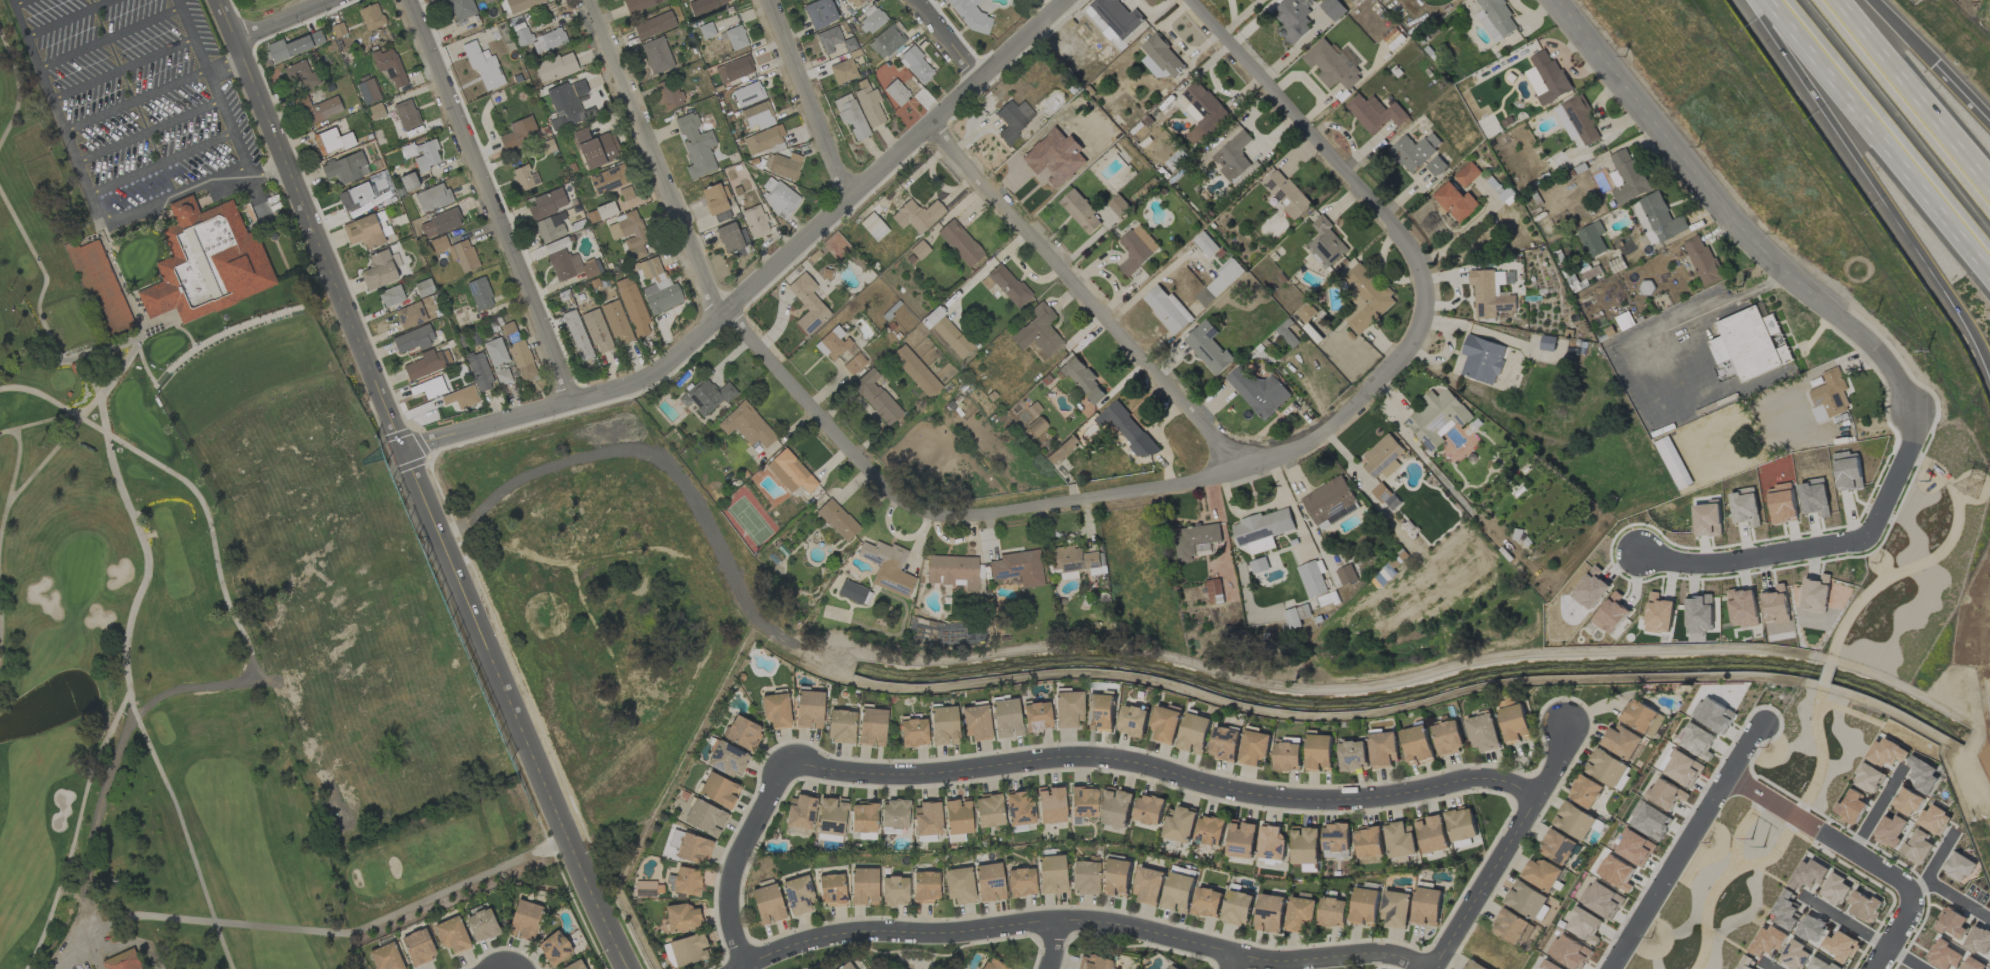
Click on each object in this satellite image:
building: (796, 0)
building: (1250, 0)
road: (18, 2)
building: (855, 2)
building: (523, 4)
building: (638, 5)
building: (705, 6)
building: (461, 9)
building: (1333, 9)
building: (820, 13)
building: (970, 15)
road: (68, 17)
building: (371, 17)
building: (1117, 18)
building: (1496, 18)
building: (1293, 19)
building: (871, 20)
road: (287, 22)
building: (654, 26)
building: (706, 30)
road: (1895, 33)
road: (110, 37)
building: (537, 37)
building: (735, 38)
building: (829, 39)
road: (951, 39)
building: (886, 41)
building: (292, 47)
building: (657, 56)
building: (1164, 56)
building: (1332, 65)
building: (483, 66)
building: (916, 66)
road: (228, 67)
building: (389, 67)
road: (123, 68)
building: (556, 68)
building: (734, 69)
building: (843, 71)
building: (300, 74)
building: (1546, 77)
road: (213, 84)
building: (368, 91)
building: (896, 93)
road: (1913, 93)
building: (669, 94)
building: (748, 94)
road: (808, 97)
road: (1959, 97)
road: (136, 99)
parking lot: (138, 103)
building: (567, 105)
building: (869, 106)
building: (317, 109)
building: (1201, 111)
building: (375, 112)
building: (1375, 113)
road: (59, 115)
building: (406, 115)
building: (758, 115)
building: (851, 116)
building: (1013, 119)
building: (1577, 120)
road: (149, 131)
building: (519, 133)
road: (1879, 136)
building: (763, 140)
building: (332, 141)
building: (595, 148)
building: (1414, 151)
building: (422, 154)
building: (1233, 156)
road: (656, 157)
road: (163, 162)
building: (783, 165)
building: (1436, 166)
building: (345, 168)
building: (1467, 175)
building: (1629, 177)
building: (522, 178)
building: (609, 179)
building: (1615, 179)
building: (408, 182)
road: (1876, 186)
road: (203, 187)
building: (364, 192)
building: (625, 194)
building: (1288, 195)
building: (778, 197)
building: (432, 198)
road: (491, 198)
building: (1456, 202)
building: (547, 203)
building: (715, 203)
building: (1118, 205)
building: (1081, 212)
road: (1724, 214)
building: (917, 216)
building: (1657, 218)
building: (755, 222)
building: (439, 223)
road: (312, 224)
building: (551, 227)
building: (873, 227)
building: (363, 232)
building: (629, 234)
building: (1593, 239)
building: (732, 240)
building: (960, 243)
building: (1325, 243)
building: (1206, 244)
building: (1136, 249)
building: (457, 252)
building: (1703, 261)
building: (567, 262)
building: (378, 271)
building: (205, 272)
road: (764, 275)
building: (1220, 282)
building: (657, 284)
building: (1009, 286)
building: (101, 288)
building: (422, 289)
building: (480, 294)
building: (1490, 294)
building: (391, 296)
building: (1366, 298)
road: (1087, 299)
building: (808, 305)
building: (632, 306)
building: (1167, 309)
building: (1306, 313)
building: (410, 315)
building: (616, 322)
road: (1682, 324)
building: (596, 330)
building: (1038, 331)
building: (577, 335)
building: (951, 337)
building: (414, 339)
building: (1750, 343)
building: (1208, 347)
building: (840, 351)
building: (495, 352)
building: (519, 354)
building: (1482, 359)
building: (427, 364)
building: (479, 371)
building: (918, 374)
building: (502, 376)
building: (1082, 378)
building: (429, 388)
building: (1258, 391)
building: (1829, 396)
building: (461, 397)
building: (706, 397)
building: (876, 397)
building: (1437, 417)
building: (747, 426)
building: (1037, 427)
building: (1127, 429)
building: (1062, 450)
building: (1383, 458)
road: (1264, 462)
building: (1673, 462)
building: (790, 472)
building: (1385, 497)
power tower: (1976, 497)
building: (1330, 502)
building: (837, 520)
building: (1263, 526)
building: (1196, 540)
road: (1822, 547)
park: (205, 552)
building: (1075, 560)
building: (887, 567)
building: (1017, 568)
building: (953, 571)
building: (1346, 575)
building: (1312, 579)
building: (854, 593)
building: (1742, 605)
building: (1699, 611)
building: (1296, 615)
building: (1611, 615)
building: (1657, 622)
building: (1067, 709)
road: (512, 710)
building: (775, 710)
building: (809, 710)
building: (1101, 712)
building: (1713, 715)
building: (1036, 716)
building: (1005, 718)
building: (1642, 718)
building: (1133, 721)
building: (975, 722)
building: (1514, 723)
building: (1165, 724)
building: (943, 725)
building: (841, 726)
building: (871, 727)
building: (743, 733)
building: (913, 733)
building: (1484, 733)
building: (1194, 734)
building: (1448, 737)
building: (1696, 740)
building: (1621, 741)
building: (1225, 743)
building: (1417, 744)
building: (1255, 747)
building: (1384, 749)
road: (1744, 749)
building: (1319, 752)
building: (1886, 752)
building: (1353, 755)
building: (1288, 757)
building: (728, 759)
building: (1681, 767)
building: (1606, 768)
road: (1167, 773)
building: (1922, 774)
building: (1867, 778)
building: (719, 790)
building: (1585, 792)
building: (1665, 794)
building: (1907, 802)
building: (1082, 803)
building: (1051, 805)
building: (1117, 807)
building: (1851, 807)
building: (1019, 808)
building: (1149, 809)
road: (1876, 809)
building: (989, 811)
building: (799, 812)
building: (894, 813)
building: (831, 816)
building: (957, 816)
building: (863, 817)
building: (705, 818)
building: (927, 818)
building: (1934, 819)
building: (1649, 820)
building: (1574, 821)
building: (1179, 824)
building: (1461, 824)
building: (1210, 830)
building: (1890, 830)
road: (1820, 832)
building: (1432, 834)
building: (1241, 839)
building: (1336, 840)
building: (1400, 840)
building: (1271, 842)
building: (1368, 842)
building: (1305, 845)
building: (1557, 846)
power tower: (1762, 846)
building: (1632, 847)
building: (1917, 847)
building: (694, 849)
road: (1506, 849)
road: (736, 859)
road: (1936, 865)
building: (1958, 867)
building: (1616, 872)
road: (1669, 872)
building: (1540, 873)
building: (1051, 874)
building: (1808, 874)
building: (1084, 877)
building: (1117, 878)
building: (687, 881)
building: (989, 882)
building: (1021, 882)
building: (959, 885)
building: (1149, 885)
building: (863, 886)
building: (925, 887)
building: (648, 889)
building: (1835, 889)
building: (831, 890)
building: (894, 891)
building: (1178, 893)
building: (798, 895)
building: (1601, 899)
road: (1958, 900)
building: (1527, 901)
building: (1207, 902)
building: (767, 904)
building: (1426, 906)
building: (1364, 907)
building: (1864, 907)
building: (1237, 908)
building: (1395, 909)
building: (1786, 911)
building: (1332, 912)
building: (1270, 913)
building: (1300, 914)
building: (683, 917)
building: (524, 920)
building: (1951, 923)
building: (481, 925)
road: (1080, 925)
building: (1583, 926)
building: (1511, 927)
road: (309, 928)
building: (1811, 929)
road: (1862, 932)
road: (1896, 932)
building: (452, 935)
building: (1767, 940)
building: (1978, 940)
building: (1841, 946)
road: (1052, 947)
building: (418, 948)
building: (554, 948)
building: (688, 950)
building: (1569, 952)
building: (1795, 955)
building: (1943, 955)
building: (385, 957)
building: (123, 961)
building: (1746, 962)
building: (1093, 963)
road: (1238, 964)
building: (1821, 964)
building: (1975, 964)
building: (574, 965)
building: (992, 965)
building: (1475, 965)
building: (1549, 965)
building: (845, 966)
road: (1767, 966)
building: (1170, 967)

